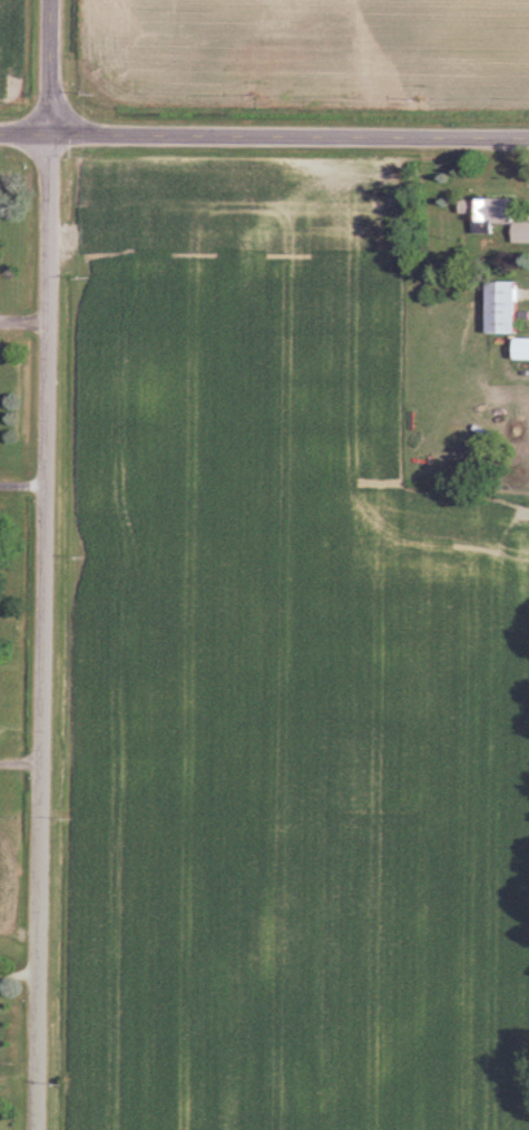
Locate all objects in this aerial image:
road: (53, 68)
road: (264, 137)
building: (498, 218)
building: (503, 309)
road: (25, 483)
road: (48, 633)
road: (23, 763)

